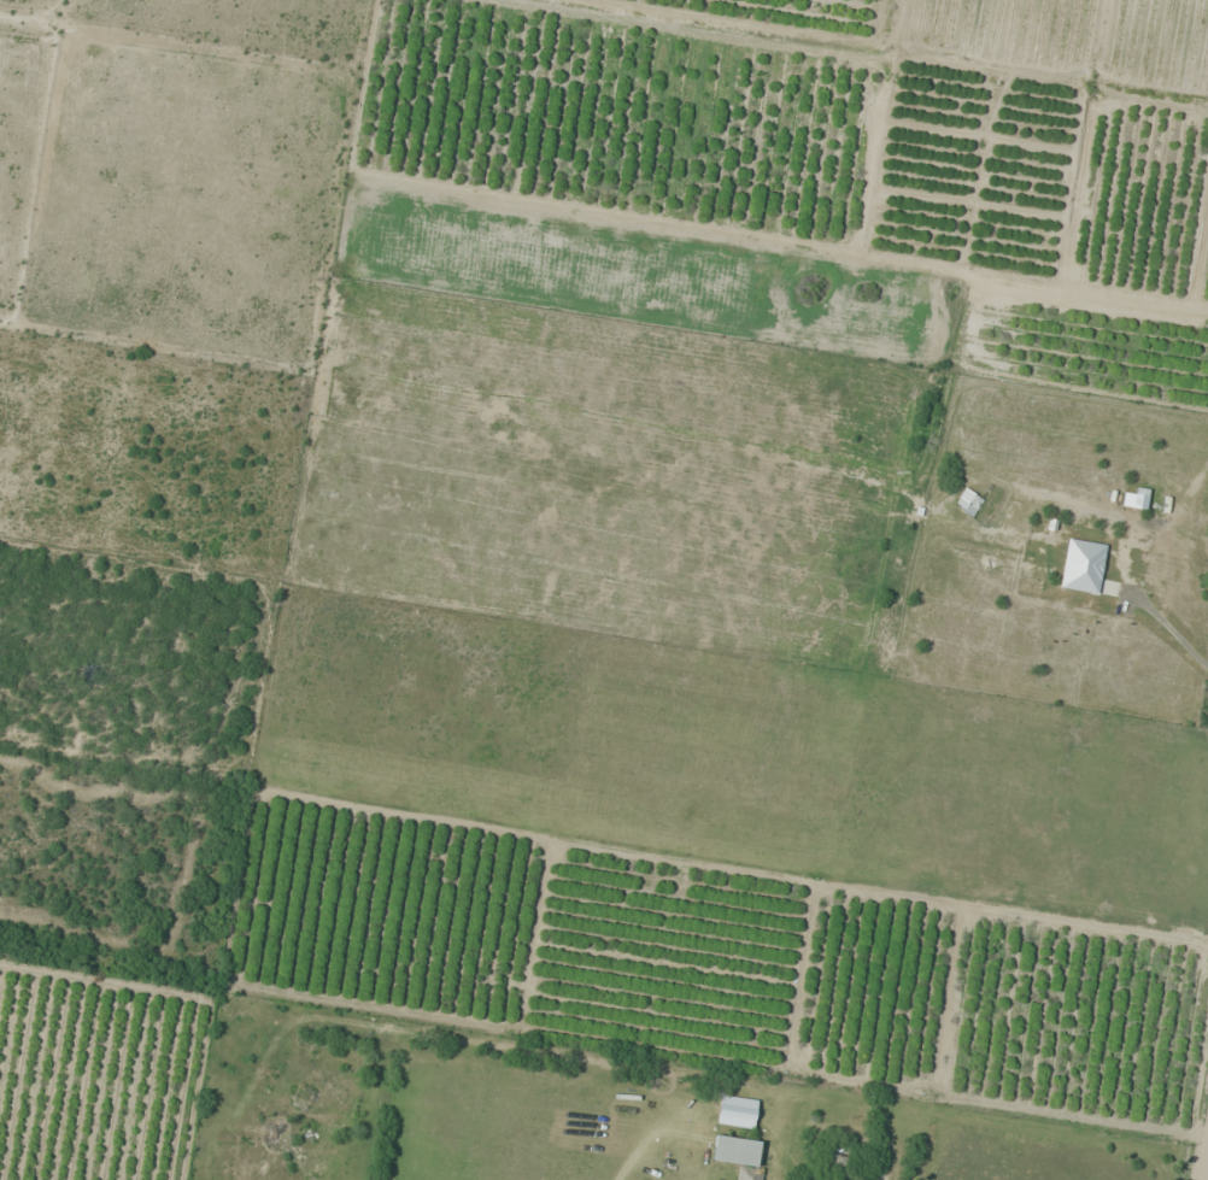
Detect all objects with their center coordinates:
road: (1201, 1138)
building: (739, 1150)

